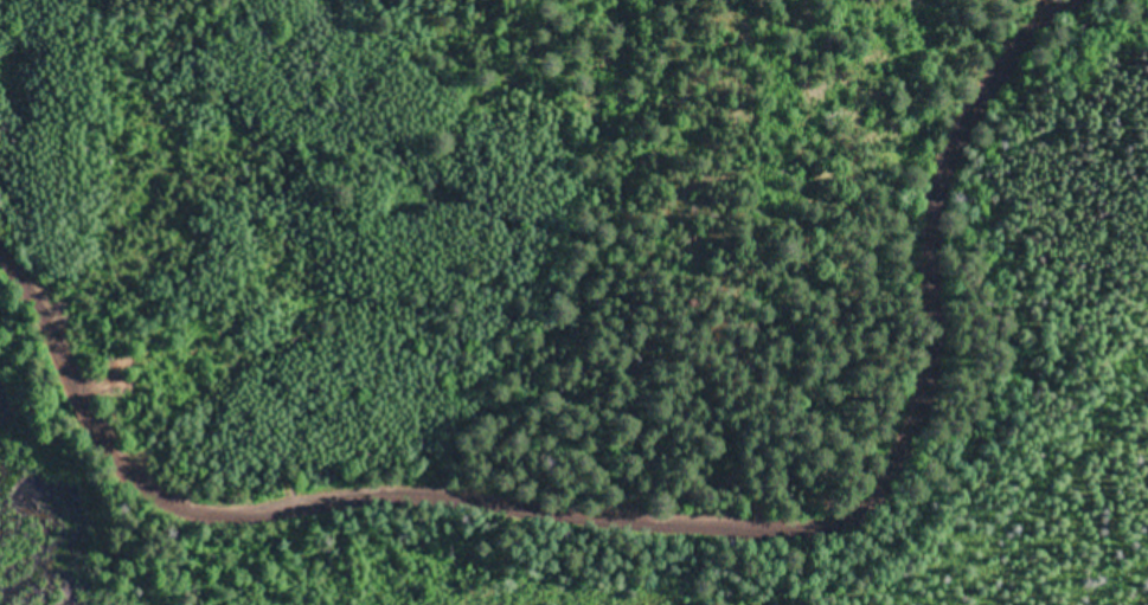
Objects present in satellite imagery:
road: (637, 504)

